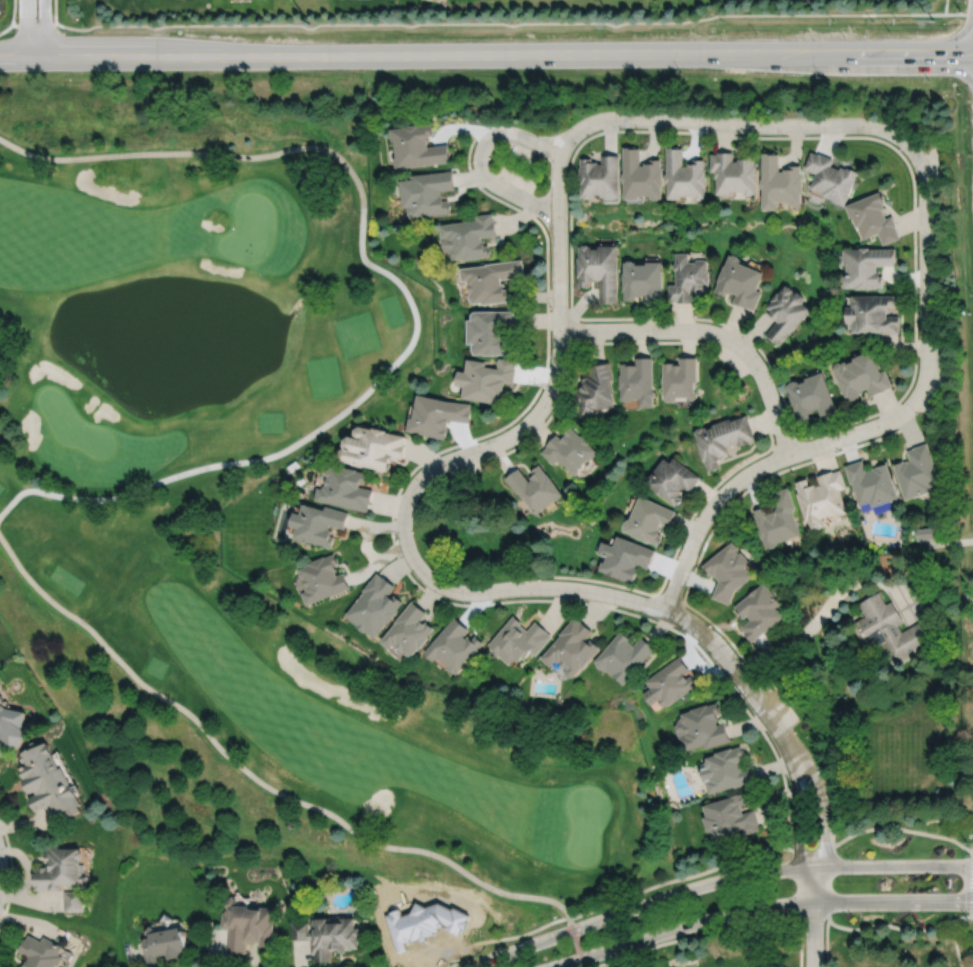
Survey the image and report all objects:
road: (945, 6)
road: (13, 11)
road: (55, 11)
road: (959, 13)
power tower: (614, 21)
power tower: (932, 22)
road: (499, 23)
road: (25, 24)
power tower: (309, 25)
road: (27, 28)
road: (44, 28)
road: (486, 55)
road: (738, 124)
street lamp: (621, 127)
street lamp: (710, 131)
street lamp: (804, 133)
building: (418, 147)
street lamp: (900, 150)
parking lot: (523, 152)
road: (480, 158)
street lamp: (471, 163)
parking lot: (934, 163)
building: (735, 173)
building: (643, 175)
building: (686, 175)
building: (601, 177)
building: (830, 177)
parking lot: (516, 178)
building: (779, 182)
building: (428, 193)
building: (872, 218)
street lamp: (568, 224)
building: (470, 237)
road: (914, 237)
building: (866, 267)
building: (600, 271)
building: (690, 280)
building: (492, 281)
building: (644, 281)
building: (740, 282)
street lamp: (917, 290)
road: (408, 297)
street lamp: (550, 306)
building: (785, 313)
building: (872, 315)
road: (572, 328)
road: (711, 331)
building: (492, 333)
street lamp: (657, 338)
parking lot: (733, 360)
street lamp: (763, 360)
road: (569, 369)
building: (861, 376)
parking lot: (936, 378)
building: (487, 380)
building: (682, 380)
building: (639, 381)
building: (597, 388)
building: (811, 395)
street lamp: (551, 410)
street lamp: (915, 413)
building: (437, 415)
road: (873, 425)
building: (723, 436)
street lamp: (806, 438)
road: (787, 441)
building: (372, 445)
street lamp: (459, 447)
building: (570, 448)
parking lot: (467, 468)
building: (916, 470)
building: (673, 478)
building: (871, 481)
building: (535, 486)
building: (345, 487)
street lamp: (716, 487)
building: (821, 496)
road: (734, 499)
building: (776, 518)
building: (650, 519)
building: (317, 522)
building: (925, 532)
road: (682, 536)
park: (110, 538)
road: (405, 542)
road: (944, 542)
street lamp: (400, 555)
road: (397, 556)
building: (626, 557)
building: (727, 570)
building: (322, 578)
road: (669, 598)
street lamp: (582, 599)
street lamp: (466, 601)
road: (828, 604)
building: (375, 605)
building: (758, 610)
building: (892, 628)
building: (409, 629)
street lamp: (682, 631)
building: (519, 639)
building: (454, 645)
building: (573, 647)
building: (625, 655)
building: (671, 682)
street lamp: (735, 689)
parking lot: (777, 700)
building: (11, 724)
building: (704, 727)
building: (726, 769)
street lamp: (785, 775)
building: (48, 781)
road: (275, 791)
building: (729, 818)
road: (825, 818)
road: (798, 824)
street lamp: (967, 842)
road: (971, 848)
road: (972, 855)
street lamp: (848, 857)
street lamp: (734, 868)
building: (61, 869)
road: (10, 872)
road: (693, 875)
road: (712, 881)
road: (970, 884)
street lamp: (627, 901)
building: (75, 902)
road: (757, 906)
street lamp: (849, 912)
road: (782, 917)
street lamp: (968, 919)
street lamp: (731, 922)
building: (248, 926)
road: (813, 933)
building: (327, 937)
road: (800, 940)
road: (826, 943)
road: (955, 943)
building: (165, 945)
street lamp: (502, 946)
street lamp: (636, 950)
building: (42, 952)
park: (635, 957)

